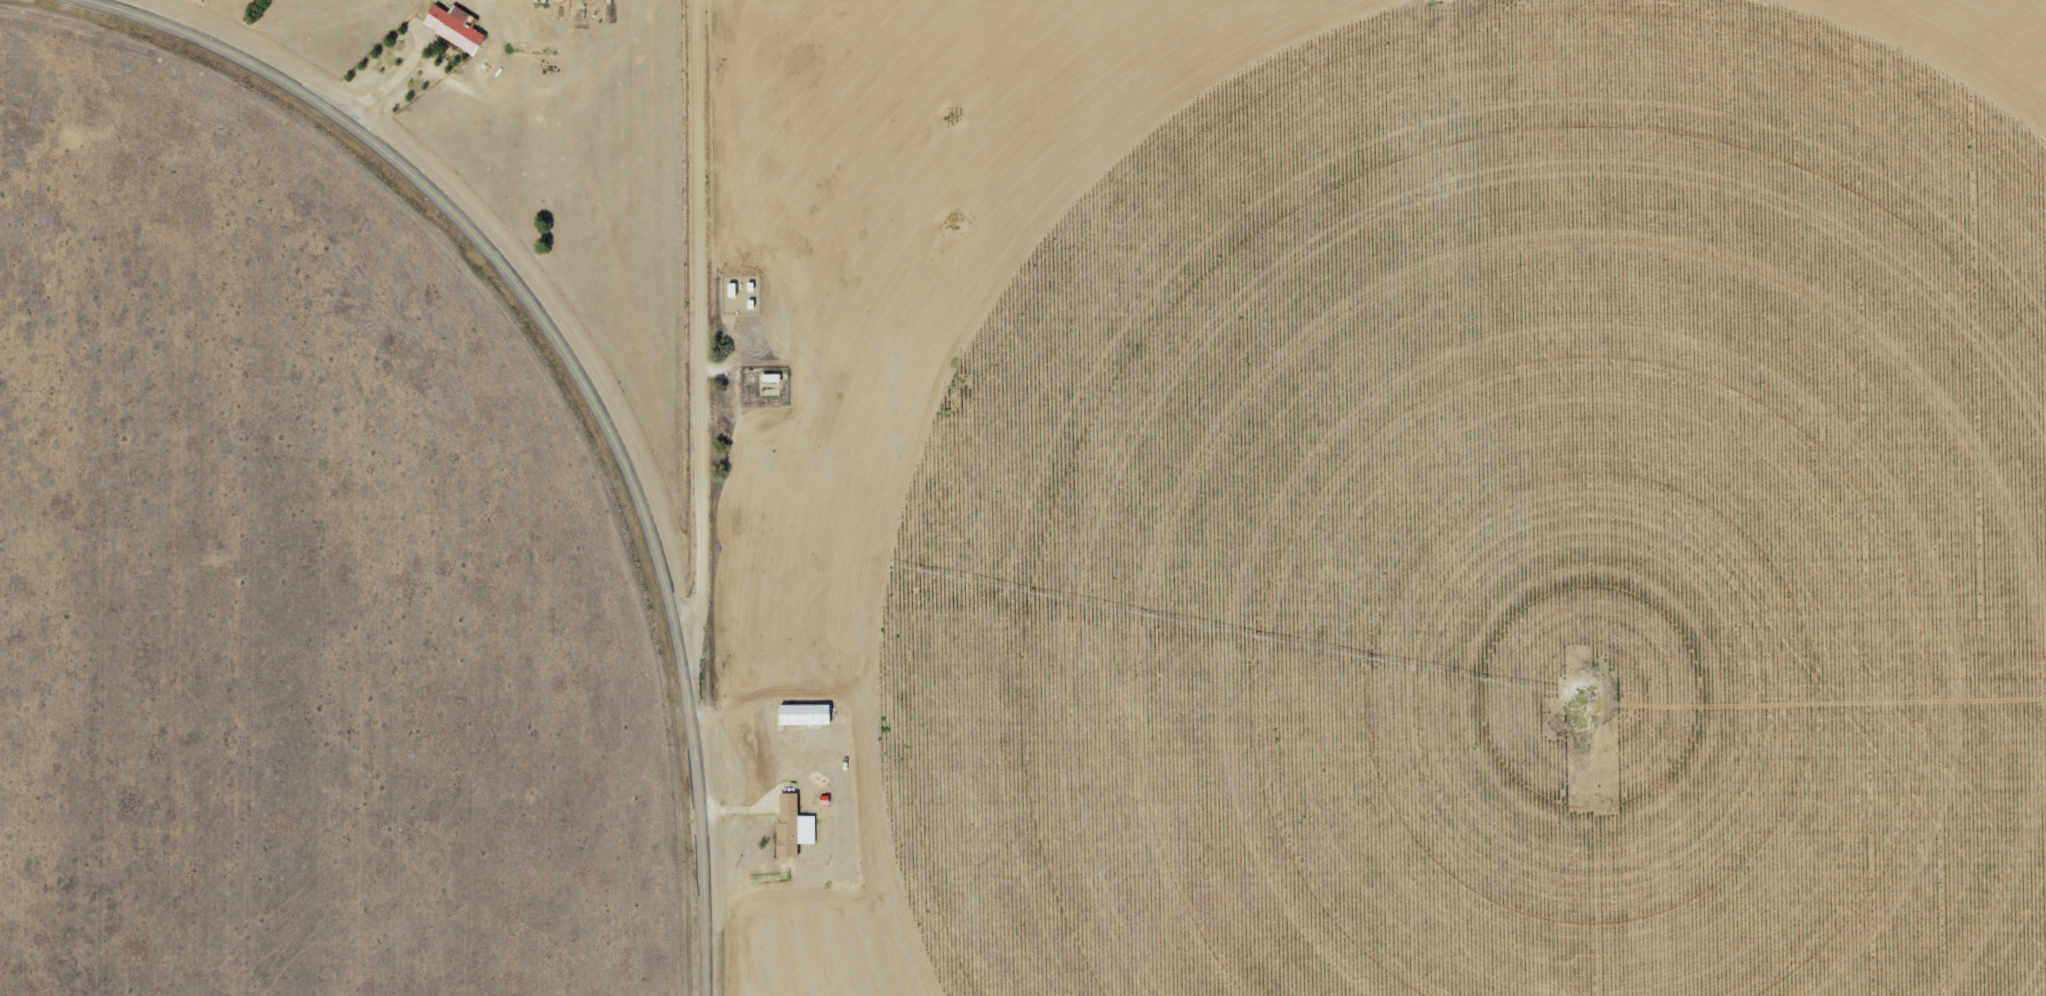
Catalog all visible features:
building: (453, 28)
road: (699, 334)
road: (575, 375)
building: (767, 381)
building: (800, 715)
building: (788, 826)

